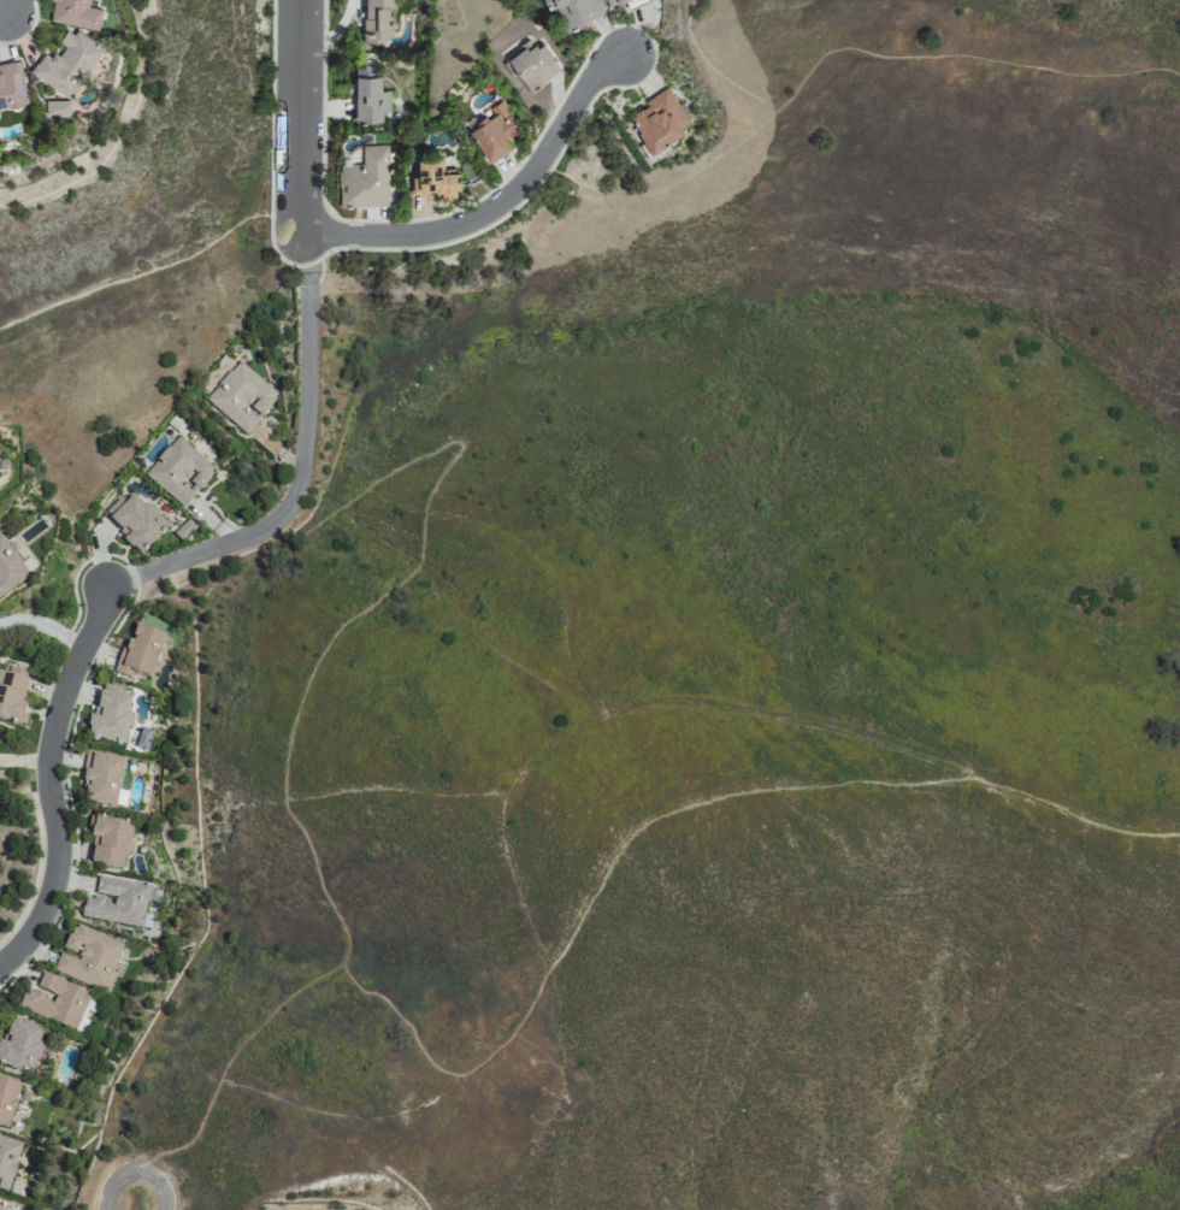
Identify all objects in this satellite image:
building: (612, 1)
road: (2, 6)
building: (576, 11)
building: (75, 13)
building: (378, 19)
road: (837, 52)
building: (67, 63)
building: (533, 64)
building: (11, 87)
building: (367, 93)
building: (57, 107)
road: (301, 117)
building: (660, 119)
building: (494, 132)
building: (432, 178)
building: (366, 179)
road: (503, 201)
road: (302, 252)
road: (154, 268)
building: (241, 396)
building: (179, 471)
road: (295, 489)
building: (134, 521)
building: (10, 569)
road: (42, 625)
building: (138, 653)
building: (12, 695)
building: (110, 716)
road: (295, 719)
building: (101, 778)
road: (48, 779)
road: (636, 832)
building: (108, 840)
building: (117, 901)
building: (87, 956)
building: (55, 1001)
building: (19, 1044)
building: (7, 1099)
building: (7, 1159)
road: (135, 1173)
building: (14, 1185)
building: (2, 1205)

